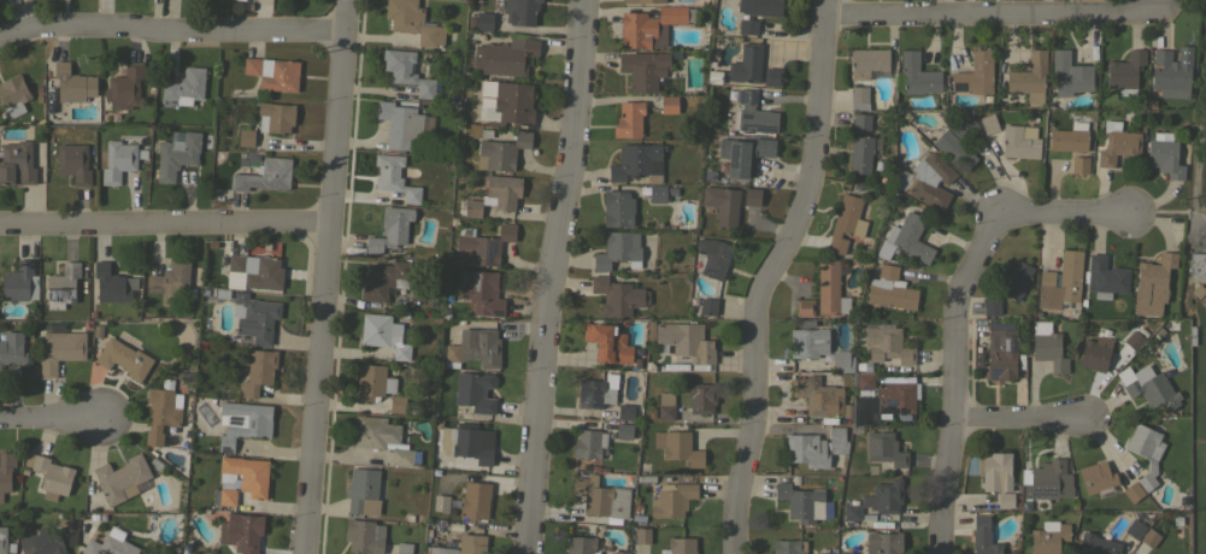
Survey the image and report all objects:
building: (645, 1)
building: (759, 7)
building: (520, 11)
road: (992, 14)
building: (481, 20)
building: (413, 22)
building: (652, 25)
building: (747, 26)
road: (173, 30)
building: (505, 57)
building: (747, 61)
building: (866, 61)
building: (643, 69)
building: (406, 71)
building: (272, 72)
building: (1124, 72)
building: (975, 73)
building: (1069, 73)
building: (1169, 73)
building: (916, 75)
building: (772, 76)
building: (1029, 77)
building: (72, 83)
rooftop solar panel: (959, 86)
building: (124, 87)
building: (186, 87)
building: (13, 95)
building: (859, 98)
building: (483, 101)
building: (512, 104)
building: (669, 104)
building: (1151, 104)
building: (754, 114)
building: (275, 117)
building: (629, 119)
building: (861, 120)
building: (988, 123)
building: (400, 124)
building: (1071, 125)
building: (246, 137)
building: (1067, 140)
building: (1019, 141)
building: (957, 142)
building: (1117, 143)
building: (765, 148)
building: (501, 152)
building: (176, 153)
building: (860, 153)
building: (739, 157)
building: (1164, 158)
building: (118, 159)
building: (16, 163)
building: (73, 163)
building: (637, 163)
building: (1079, 164)
building: (877, 166)
park: (1196, 169)
building: (264, 175)
building: (394, 177)
building: (929, 181)
building: (660, 193)
building: (495, 195)
building: (751, 196)
building: (722, 204)
building: (617, 208)
road: (1017, 214)
road: (167, 219)
building: (846, 223)
building: (390, 229)
building: (910, 237)
building: (481, 246)
rooftop solar panel: (489, 249)
building: (618, 249)
building: (887, 252)
building: (712, 257)
building: (1198, 265)
building: (257, 270)
road: (769, 275)
road: (329, 277)
road: (553, 277)
building: (1104, 277)
building: (386, 278)
building: (1016, 279)
rooftop solar panel: (1058, 279)
building: (17, 281)
building: (171, 282)
building: (1060, 282)
building: (110, 283)
building: (1152, 284)
building: (61, 285)
building: (482, 289)
building: (830, 289)
building: (890, 289)
building: (1198, 291)
building: (220, 294)
building: (617, 296)
building: (1082, 302)
building: (707, 306)
building: (804, 307)
building: (992, 307)
building: (1035, 313)
building: (254, 317)
building: (96, 331)
building: (1142, 332)
building: (383, 334)
building: (1190, 335)
building: (1134, 340)
building: (607, 342)
building: (686, 342)
building: (807, 342)
building: (887, 346)
building: (11, 347)
building: (1047, 347)
building: (475, 348)
building: (60, 349)
building: (1001, 349)
building: (1094, 353)
building: (123, 358)
building: (840, 359)
building: (976, 360)
building: (859, 366)
building: (823, 370)
building: (258, 371)
building: (372, 382)
rooftop solar panel: (858, 382)
rooftop solar panel: (869, 382)
building: (863, 385)
rooftop solar panel: (865, 387)
building: (1148, 387)
building: (475, 390)
building: (594, 393)
building: (818, 395)
building: (895, 395)
building: (701, 397)
rooftop solar panel: (881, 402)
rooftop solar panel: (890, 402)
building: (396, 403)
building: (665, 406)
building: (161, 411)
rooftop solar panel: (906, 411)
building: (625, 412)
building: (651, 413)
road: (51, 415)
road: (1018, 417)
building: (242, 422)
road: (951, 422)
building: (623, 430)
building: (383, 440)
building: (443, 441)
building: (471, 443)
building: (588, 443)
building: (677, 447)
building: (816, 447)
building: (884, 448)
building: (1146, 452)
building: (5, 470)
building: (994, 470)
building: (49, 475)
building: (122, 478)
building: (242, 478)
building: (1096, 478)
building: (639, 479)
building: (794, 479)
building: (1046, 479)
building: (363, 490)
building: (1133, 490)
rooftop solar panel: (1042, 493)
building: (600, 496)
building: (883, 496)
building: (671, 499)
building: (475, 500)
building: (1005, 500)
building: (802, 501)
building: (441, 502)
building: (1016, 506)
building: (1024, 506)
building: (852, 509)
building: (1176, 521)
building: (1134, 528)
building: (241, 531)
building: (642, 535)
building: (364, 536)
building: (983, 536)
building: (1048, 537)
building: (1148, 537)
building: (2, 540)
building: (47, 542)
building: (883, 542)
building: (471, 543)
building: (110, 544)
building: (581, 544)
building: (681, 544)
building: (1095, 544)
building: (788, 546)
building: (402, 548)
building: (440, 549)
building: (831, 550)
building: (618, 552)
building: (659, 552)
building: (823, 552)
building: (1011, 552)
building: (846, 553)

